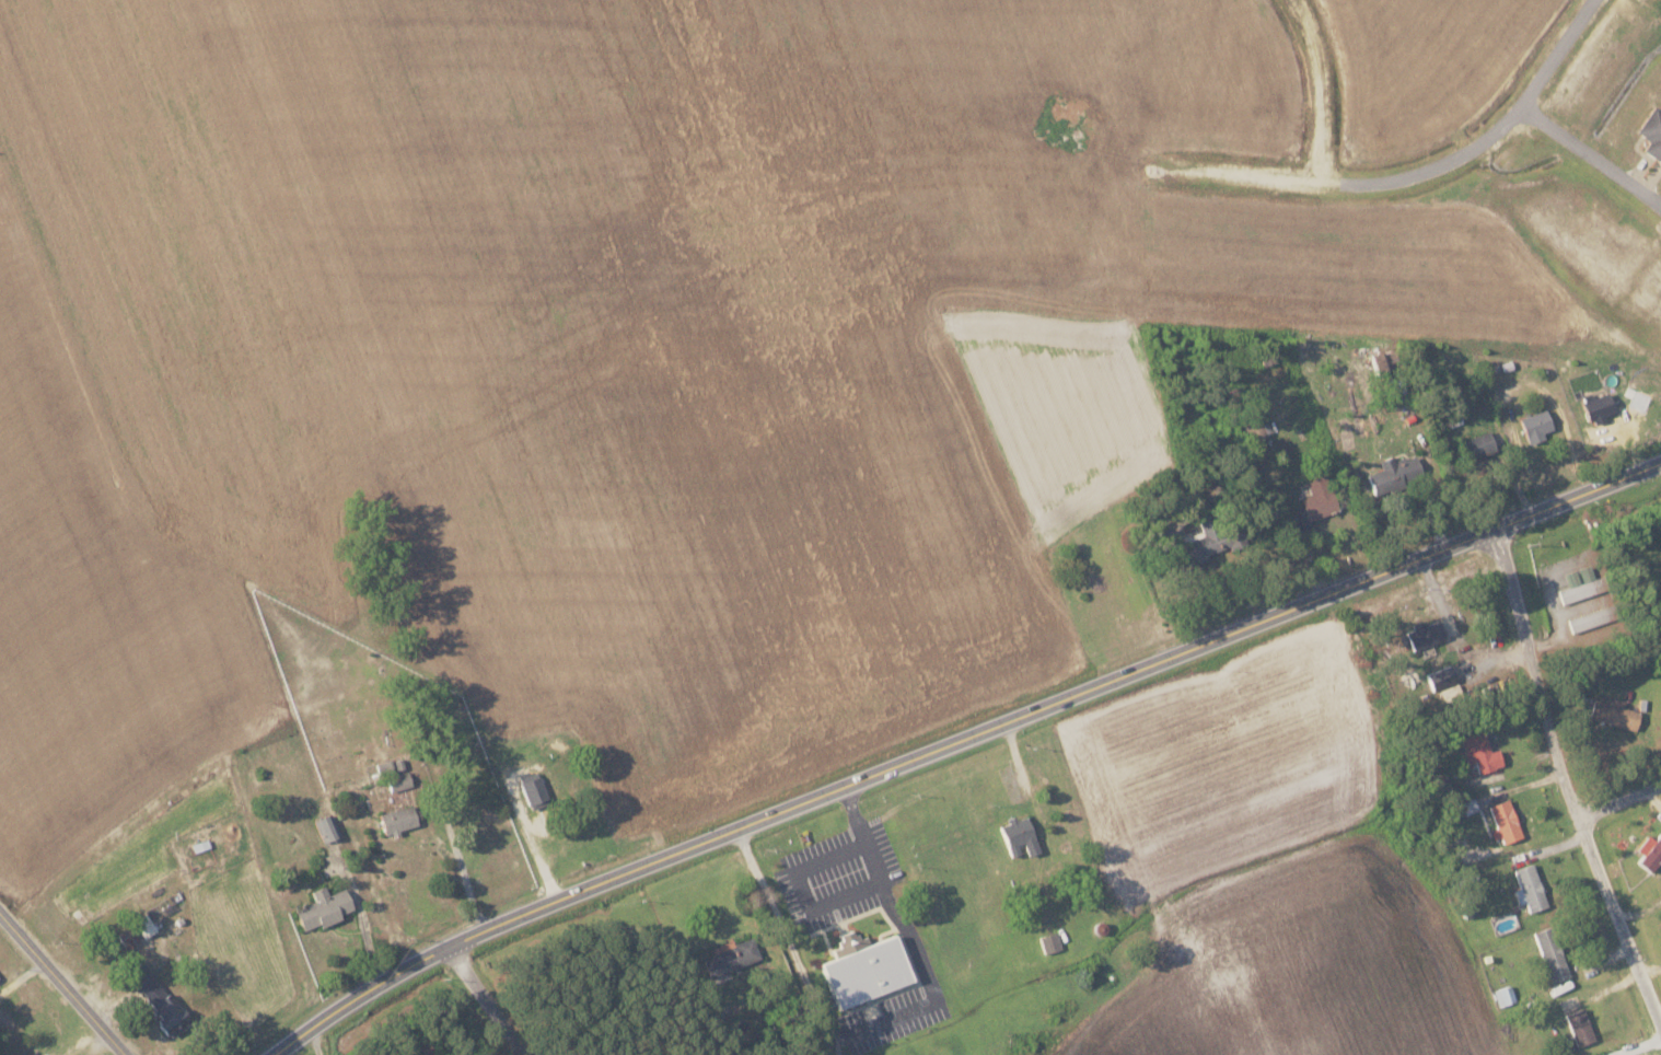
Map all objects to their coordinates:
road: (1315, 89)
building: (1653, 131)
road: (1592, 154)
road: (1420, 169)
building: (1600, 408)
building: (1537, 426)
building: (1479, 444)
building: (1396, 474)
building: (1320, 498)
building: (1208, 540)
building: (1581, 582)
building: (1426, 633)
building: (1445, 682)
building: (1615, 711)
road: (959, 741)
building: (1482, 751)
building: (394, 775)
road: (1566, 776)
building: (534, 788)
road: (1619, 798)
building: (399, 818)
building: (1507, 820)
building: (327, 826)
building: (1021, 835)
building: (1651, 851)
building: (1531, 886)
building: (325, 906)
building: (144, 924)
road: (786, 941)
building: (1050, 941)
building: (1553, 953)
building: (733, 957)
building: (867, 966)
road: (63, 982)
building: (159, 997)
road: (488, 999)
building: (1581, 1025)
road: (315, 1041)
building: (44, 1054)

